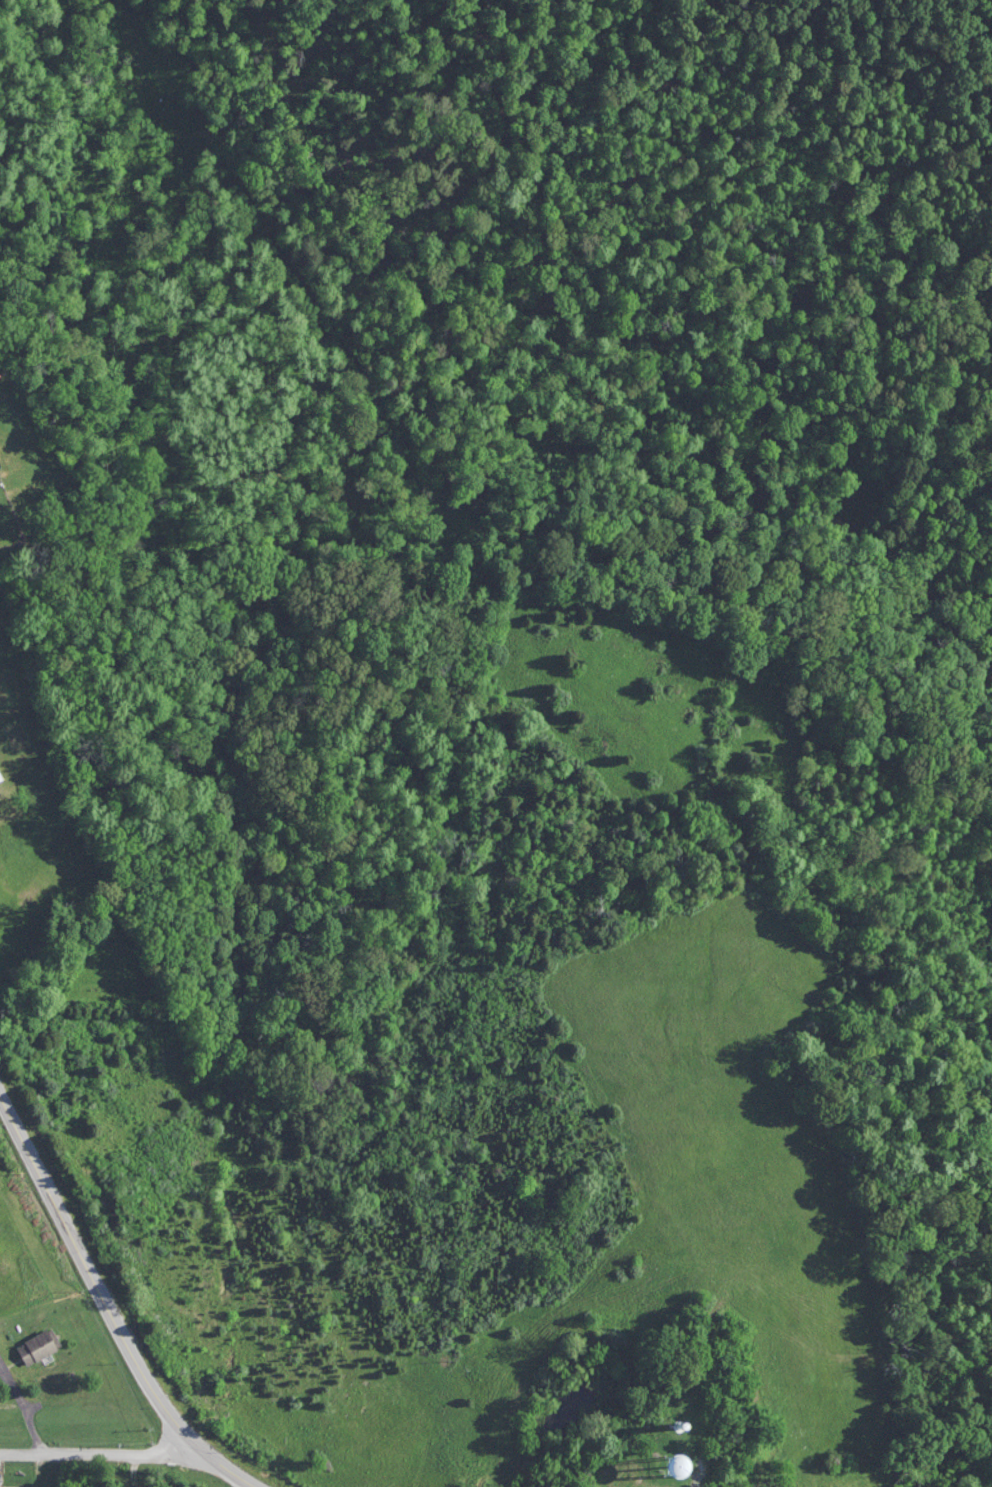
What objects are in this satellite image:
building: (1, 778)
road: (95, 1269)
building: (37, 1347)
road: (20, 1412)
road: (95, 1452)
water tower: (663, 1468)
road: (133, 1469)
road: (225, 1470)
road: (257, 1486)

